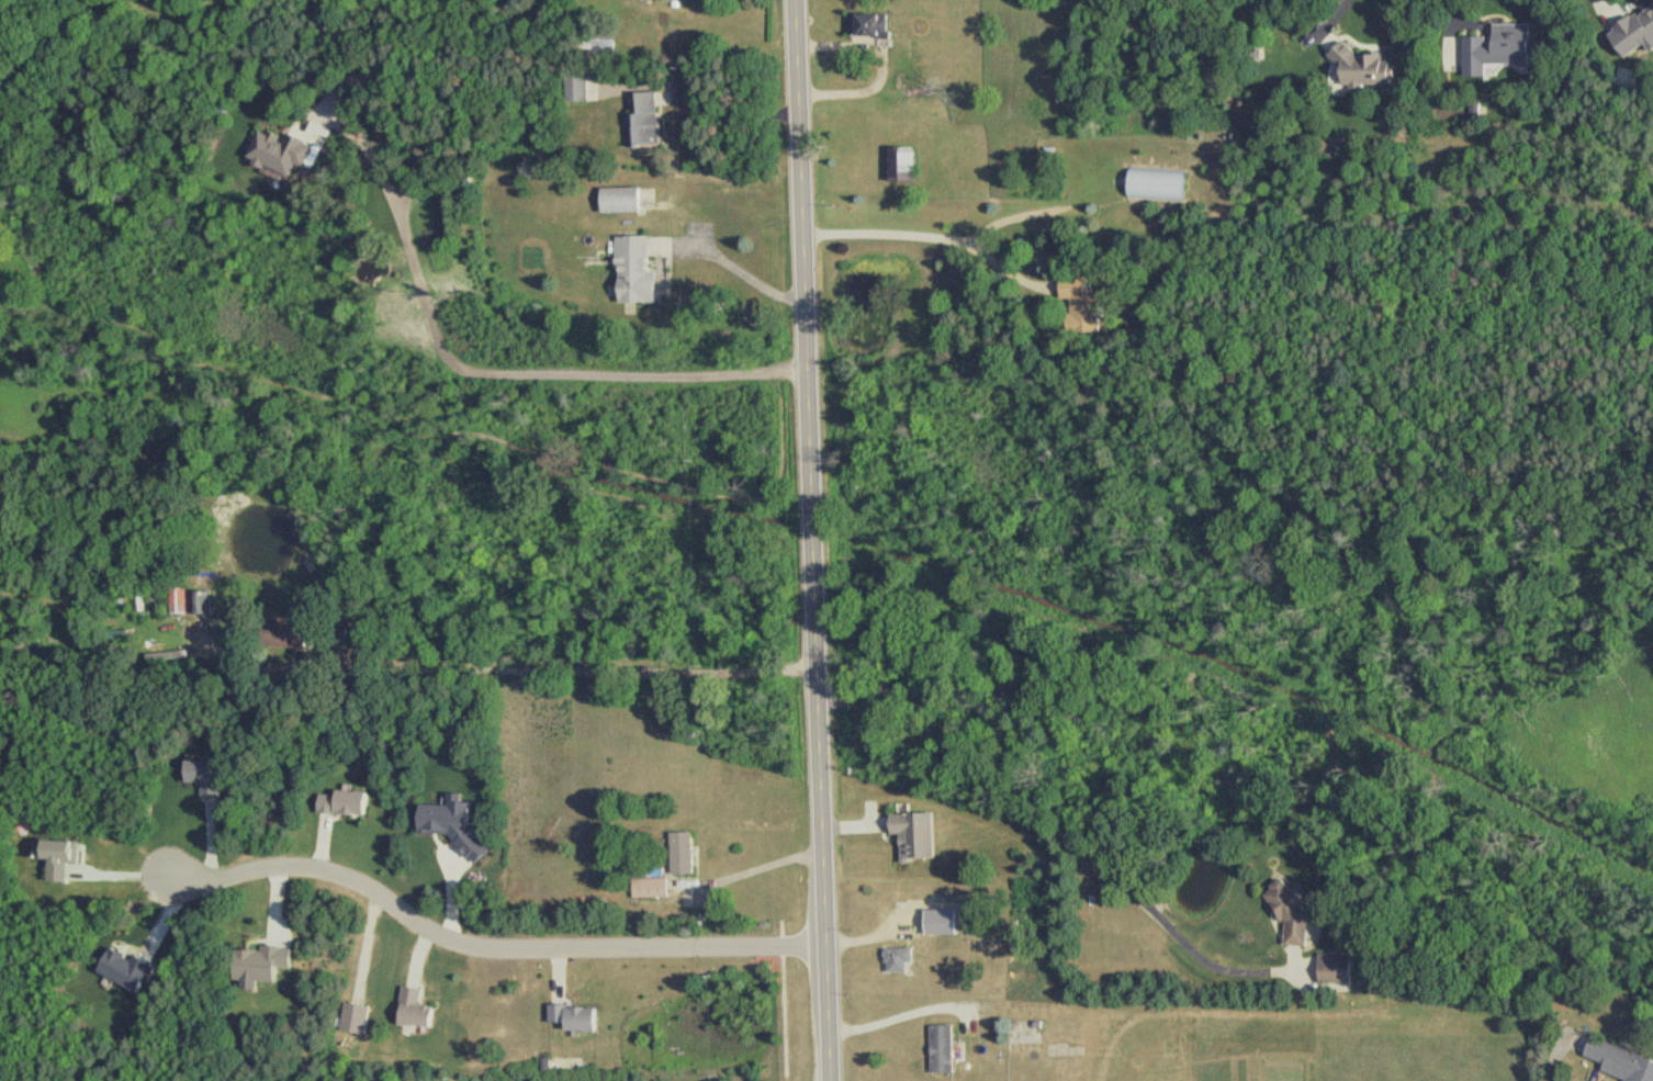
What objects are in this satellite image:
building: (873, 26)
building: (1495, 48)
building: (1360, 67)
road: (741, 111)
building: (282, 150)
building: (907, 164)
building: (1154, 185)
road: (922, 237)
road: (740, 270)
building: (1079, 304)
road: (481, 374)
road: (811, 540)
building: (202, 603)
road: (576, 671)
building: (205, 775)
road: (1069, 782)
building: (347, 803)
building: (459, 826)
building: (919, 836)
building: (61, 857)
road: (751, 877)
road: (487, 949)
building: (902, 960)
building: (1332, 968)
building: (127, 969)
building: (419, 1010)
road: (898, 1016)
building: (940, 1049)
road: (1553, 1050)
building: (1616, 1062)

